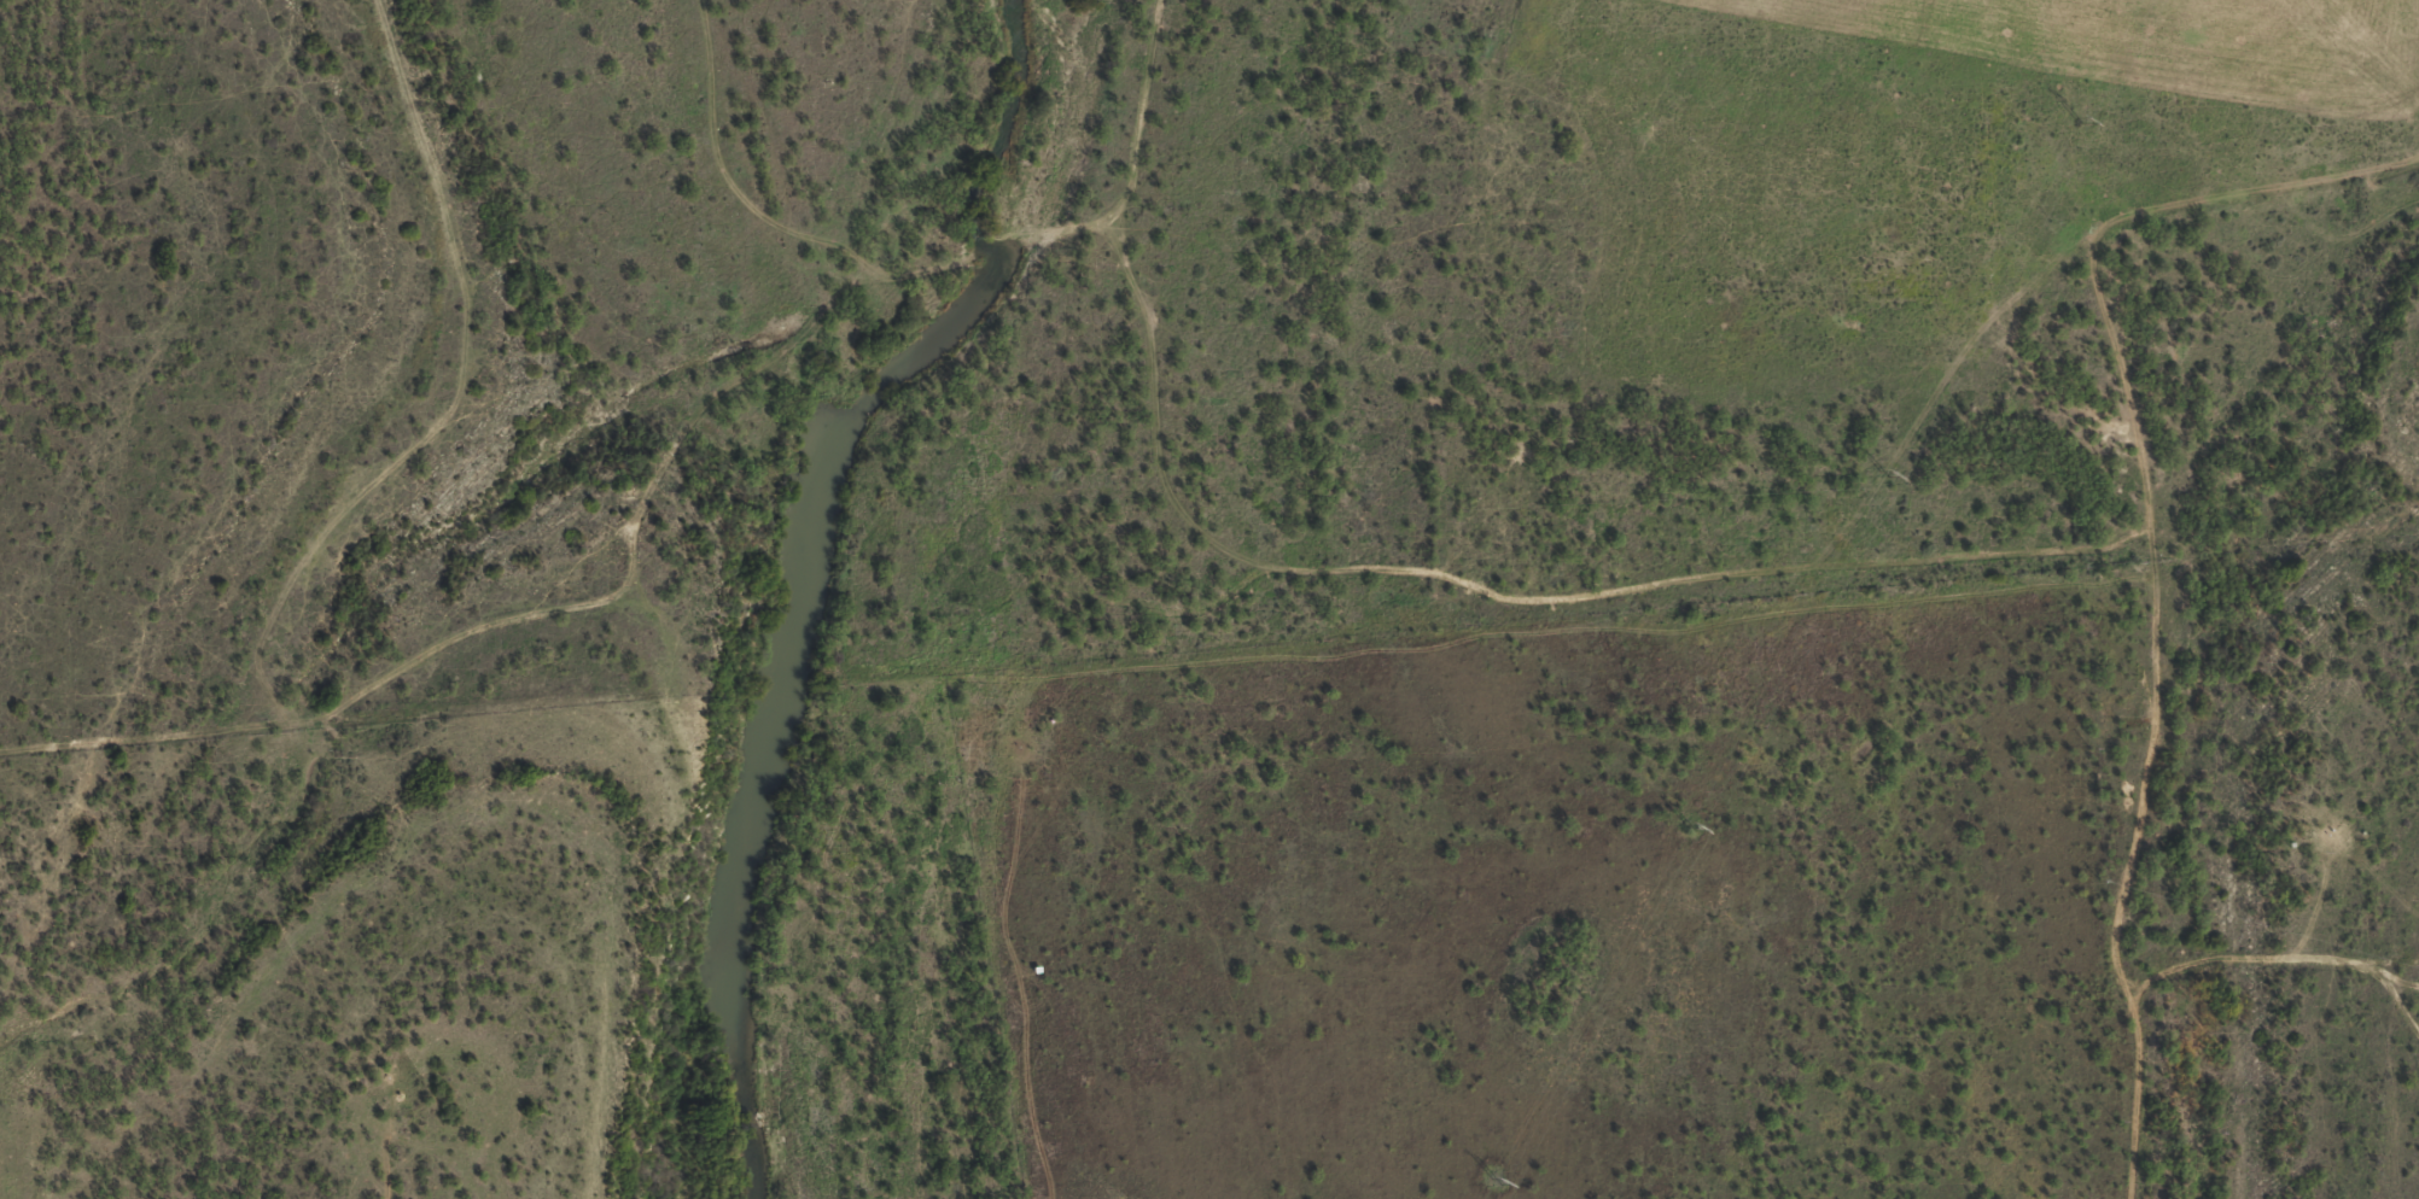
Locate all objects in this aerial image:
road: (348, 30)
road: (694, 70)
power tower: (2077, 121)
road: (1167, 182)
power tower: (1883, 474)
power tower: (1690, 827)
power tower: (1494, 1181)

